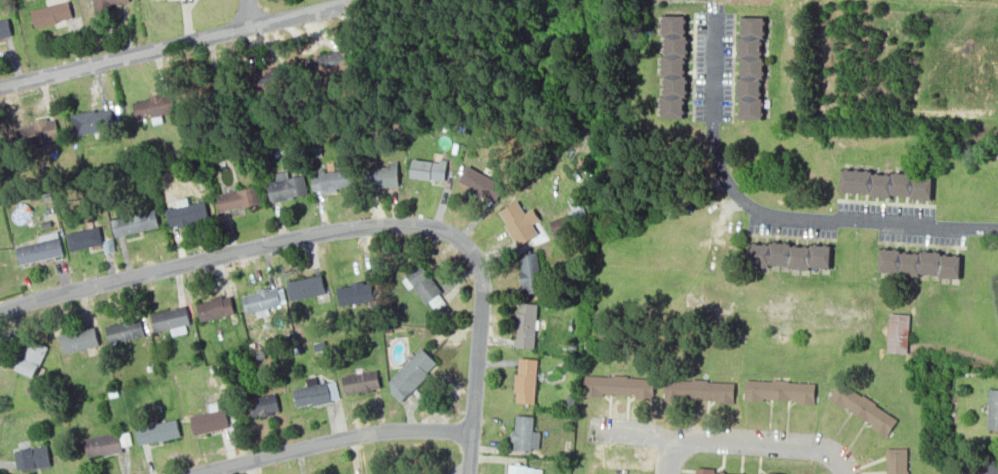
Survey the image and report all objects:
building: (109, 1)
building: (54, 13)
road: (248, 13)
building: (4, 26)
road: (181, 41)
building: (328, 59)
building: (676, 64)
building: (755, 68)
building: (206, 71)
building: (271, 72)
building: (161, 100)
building: (34, 118)
building: (92, 119)
building: (39, 131)
building: (431, 166)
building: (389, 171)
building: (336, 179)
building: (888, 184)
building: (290, 186)
building: (481, 186)
building: (242, 198)
building: (182, 213)
road: (770, 213)
building: (519, 220)
building: (141, 223)
building: (561, 223)
road: (349, 229)
building: (90, 238)
building: (109, 244)
building: (45, 251)
building: (788, 253)
building: (925, 261)
building: (533, 274)
building: (310, 284)
building: (428, 287)
building: (358, 292)
building: (265, 299)
building: (218, 306)
building: (170, 318)
building: (531, 324)
building: (125, 328)
building: (903, 334)
building: (82, 340)
building: (34, 355)
building: (414, 374)
building: (529, 377)
building: (363, 380)
building: (618, 385)
building: (701, 386)
building: (777, 387)
building: (314, 393)
building: (866, 404)
building: (264, 405)
building: (995, 410)
building: (213, 421)
building: (160, 432)
building: (523, 434)
road: (648, 436)
road: (330, 441)
building: (105, 445)
road: (752, 445)
building: (897, 457)
building: (34, 458)
building: (995, 468)
building: (528, 469)
building: (734, 470)
building: (405, 472)

